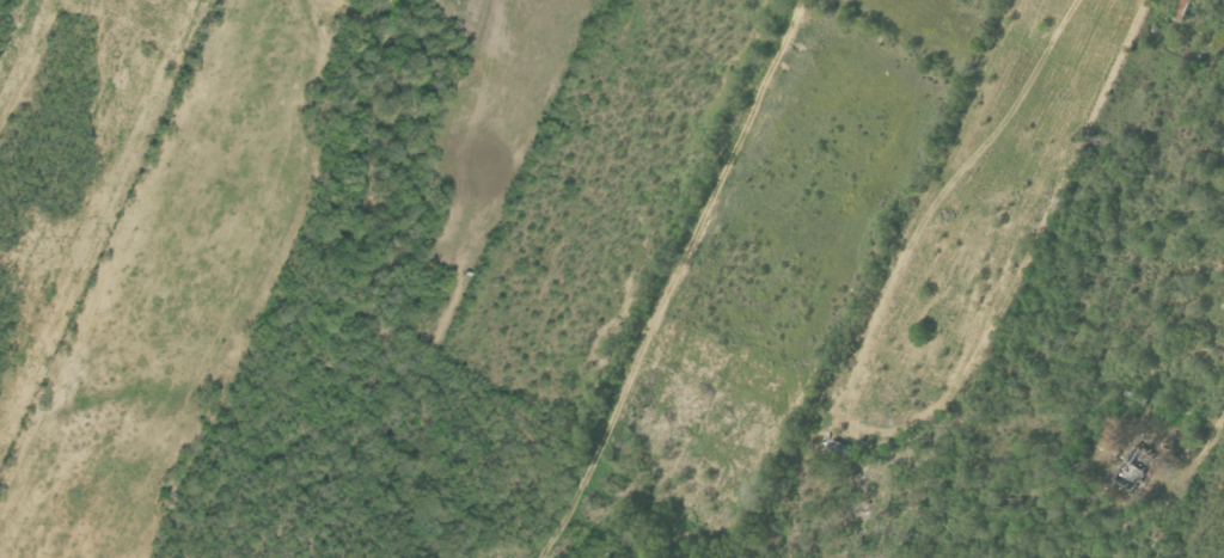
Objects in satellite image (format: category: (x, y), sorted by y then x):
road: (697, 256)
road: (1198, 459)
building: (1134, 468)

